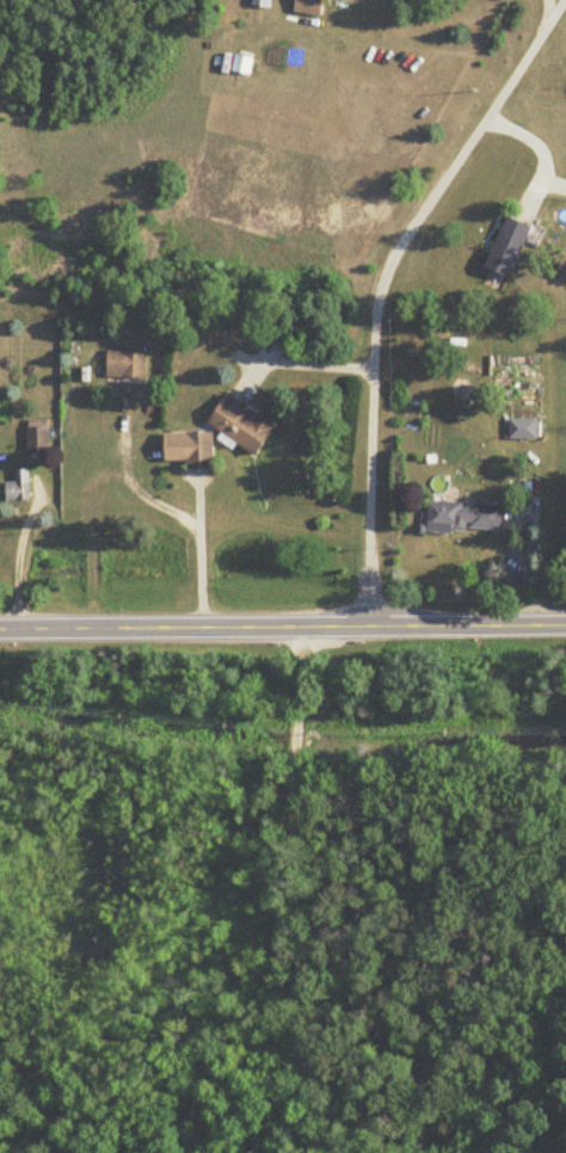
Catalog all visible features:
building: (263, 4)
building: (310, 7)
road: (546, 14)
building: (244, 64)
building: (510, 247)
road: (382, 289)
road: (306, 364)
building: (128, 366)
building: (244, 426)
building: (523, 430)
building: (39, 438)
building: (191, 451)
building: (20, 488)
building: (466, 517)
road: (203, 556)
road: (21, 562)
road: (282, 628)
road: (294, 890)

